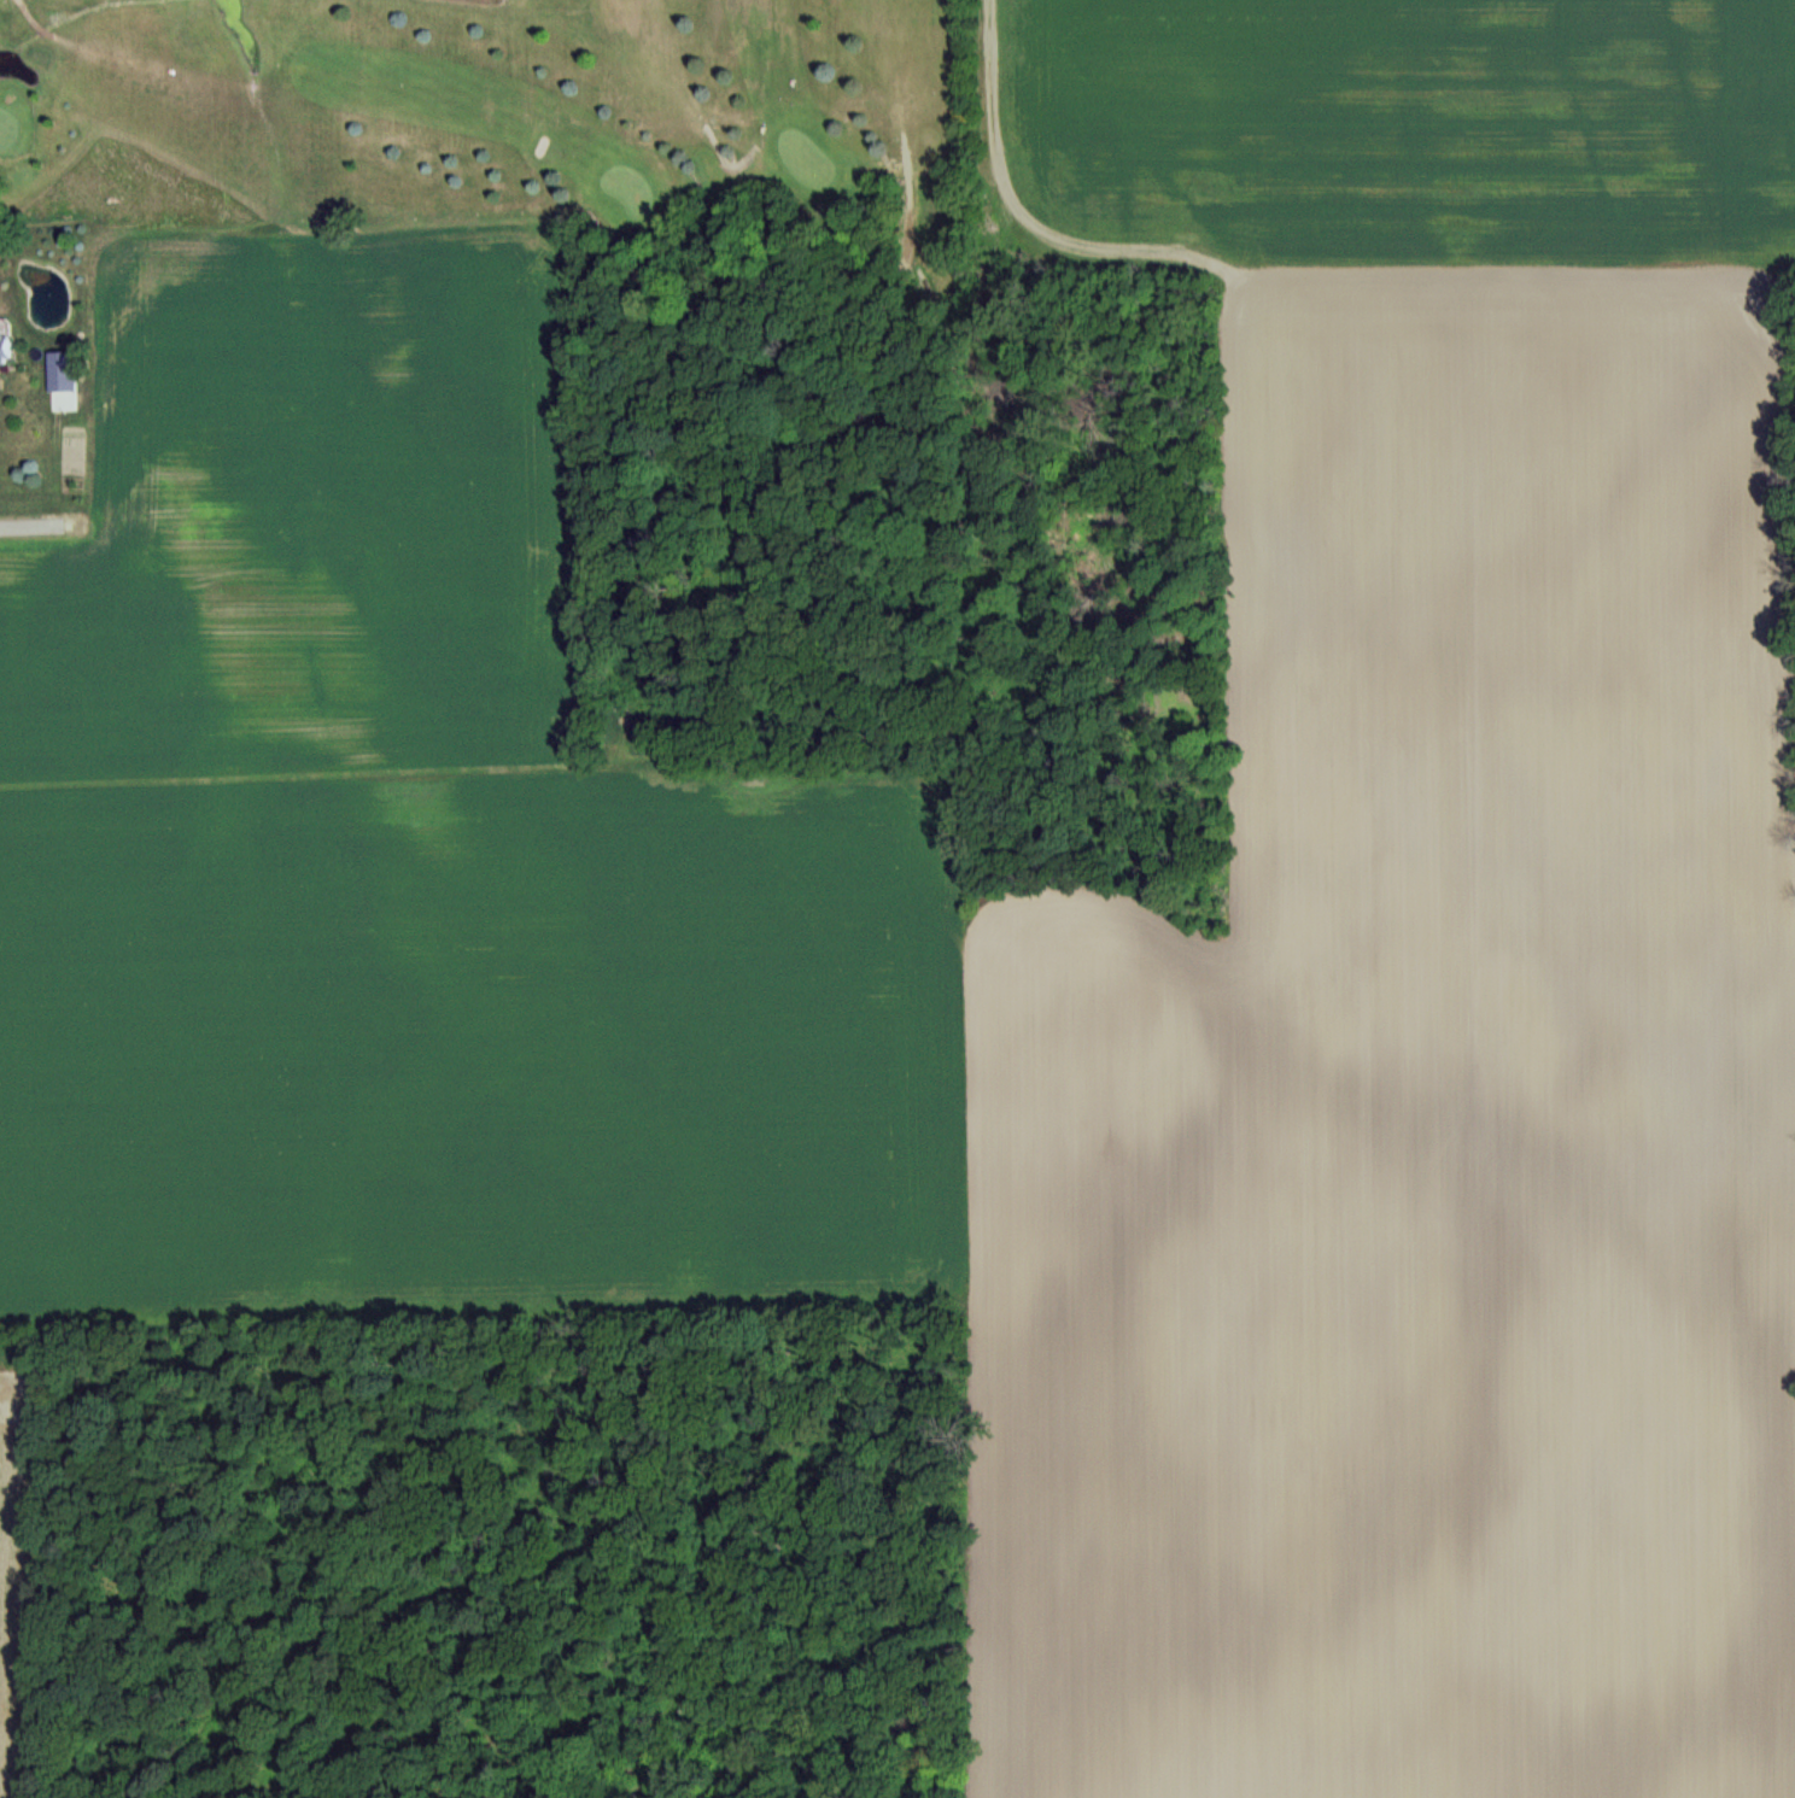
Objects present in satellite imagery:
park: (478, 99)
building: (4, 346)
road: (33, 525)

